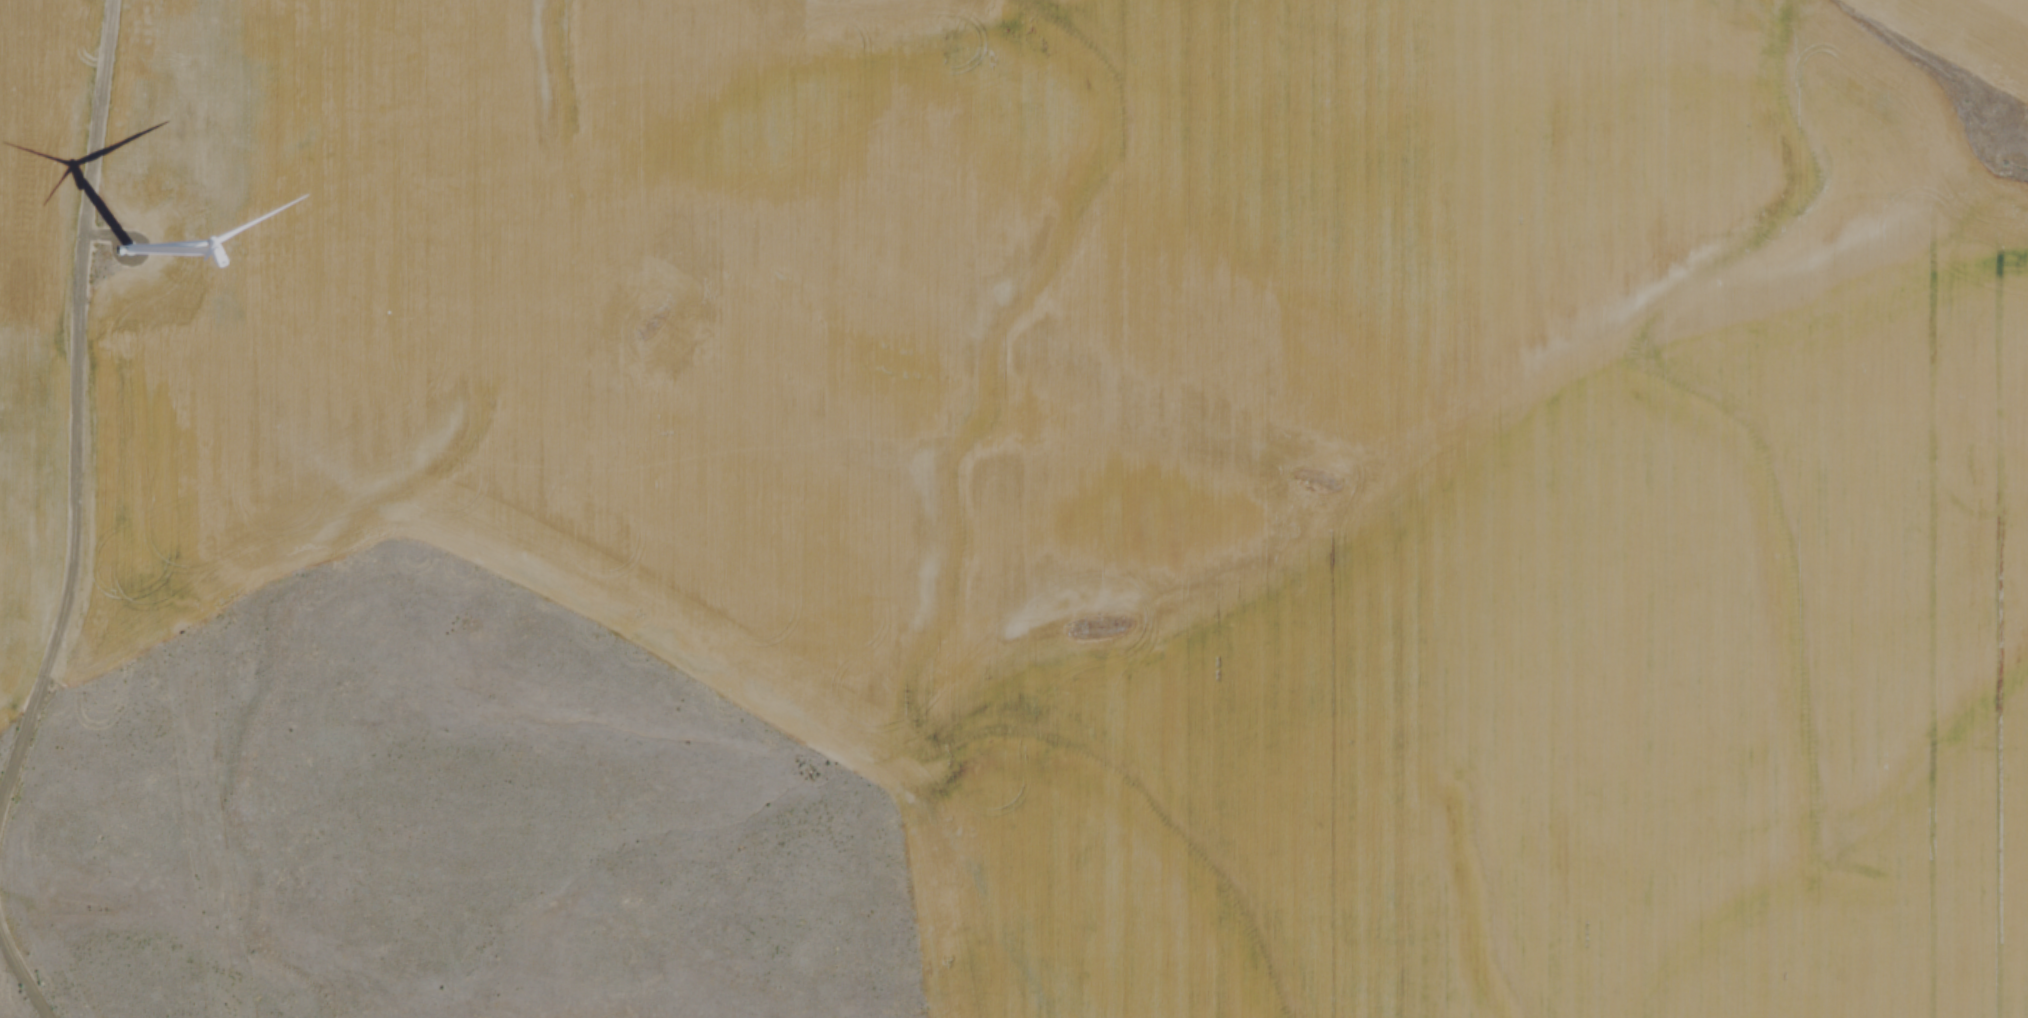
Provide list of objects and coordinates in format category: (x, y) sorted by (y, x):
wind turbine: (131, 250)
road: (74, 404)
road: (22, 972)

